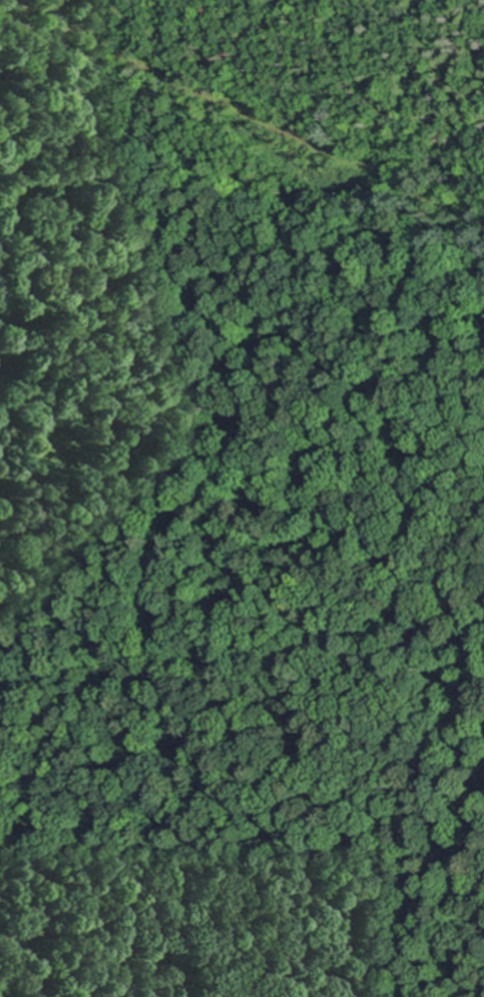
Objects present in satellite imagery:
road: (249, 109)

